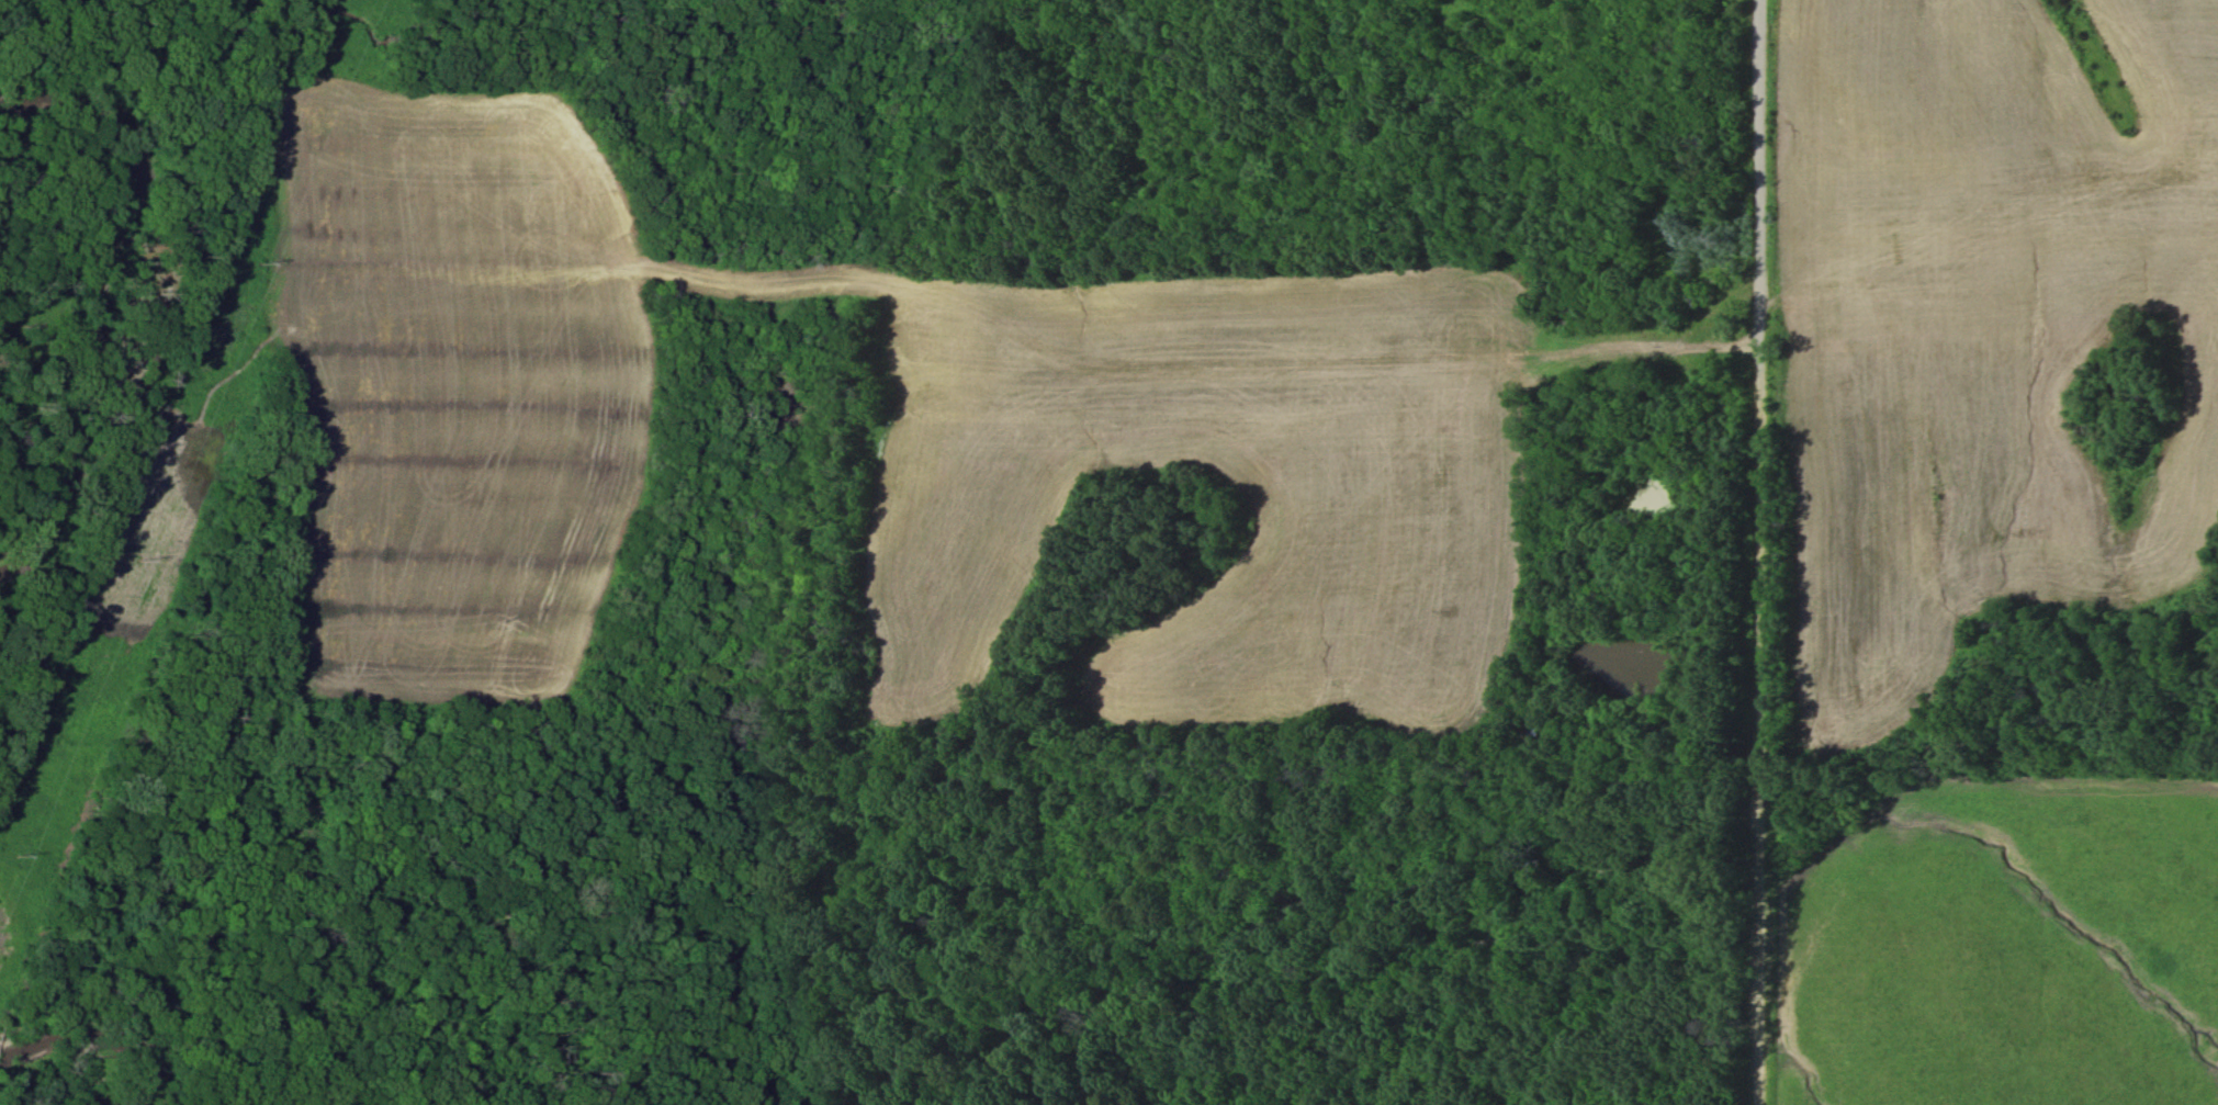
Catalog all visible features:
road: (1759, 552)

